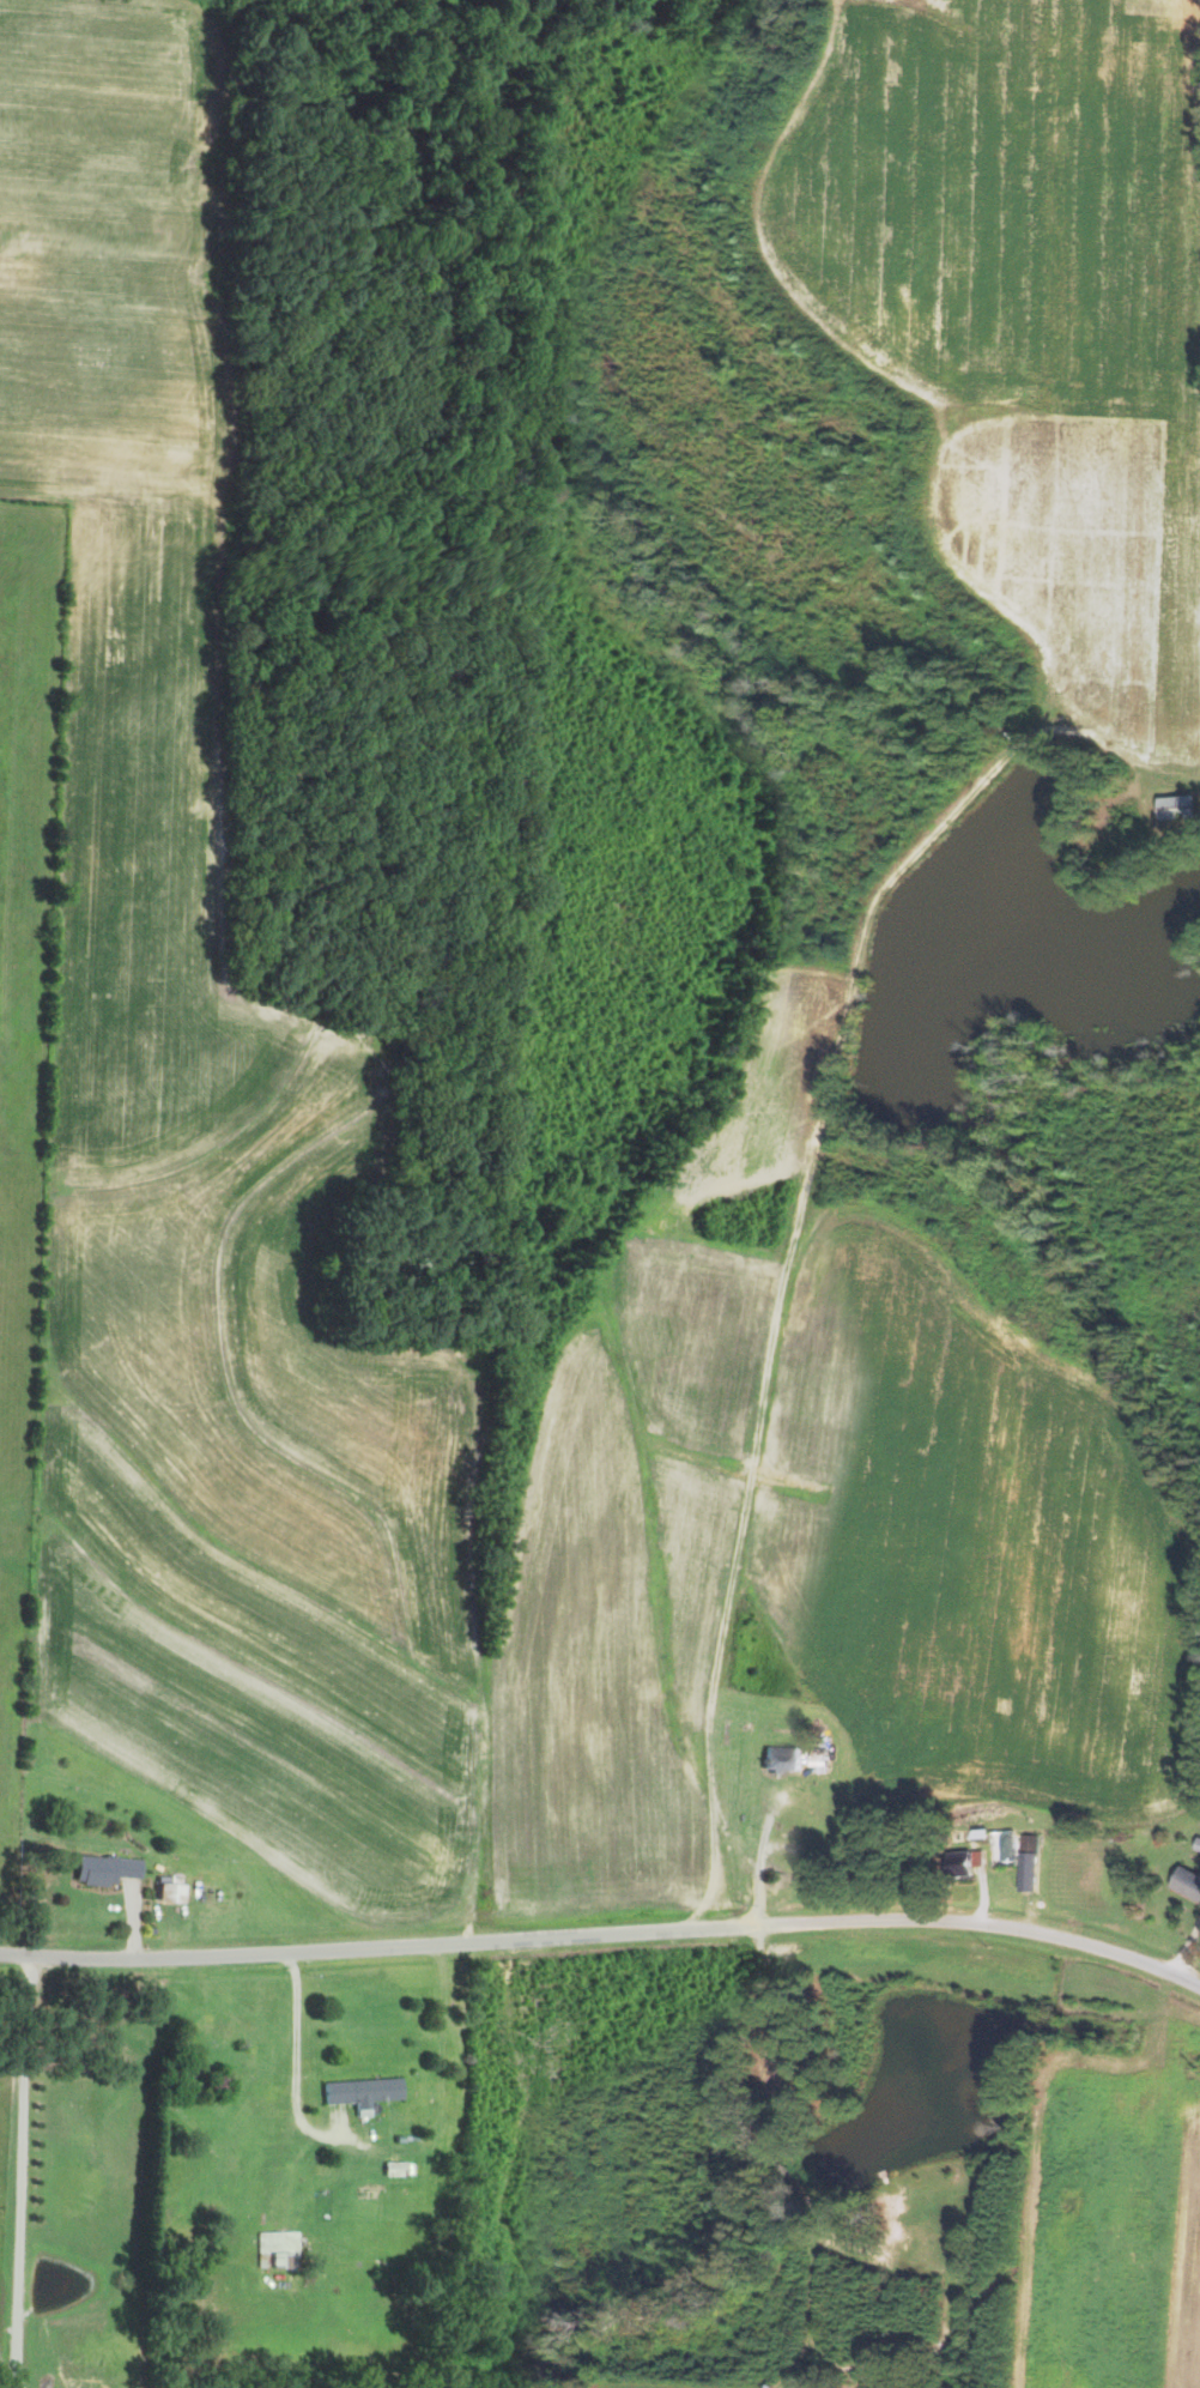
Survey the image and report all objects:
building: (1178, 806)
building: (782, 1758)
road: (758, 1858)
building: (966, 1863)
building: (1030, 1863)
building: (103, 1869)
building: (1188, 1882)
building: (168, 1891)
road: (605, 1936)
road: (296, 2049)
building: (360, 2093)
road: (20, 2168)
building: (933, 2231)
building: (275, 2250)

